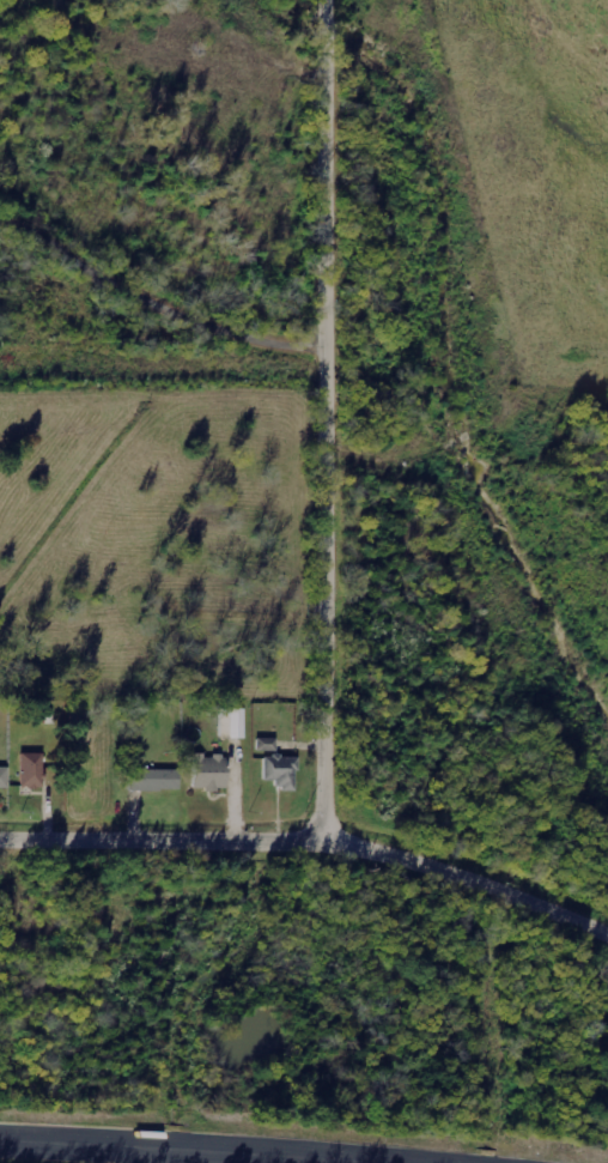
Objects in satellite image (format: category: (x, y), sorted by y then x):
road: (158, 293)
road: (327, 414)
building: (232, 723)
building: (266, 745)
building: (32, 770)
building: (281, 771)
building: (209, 773)
building: (4, 777)
building: (154, 780)
road: (311, 830)
road: (158, 1150)

